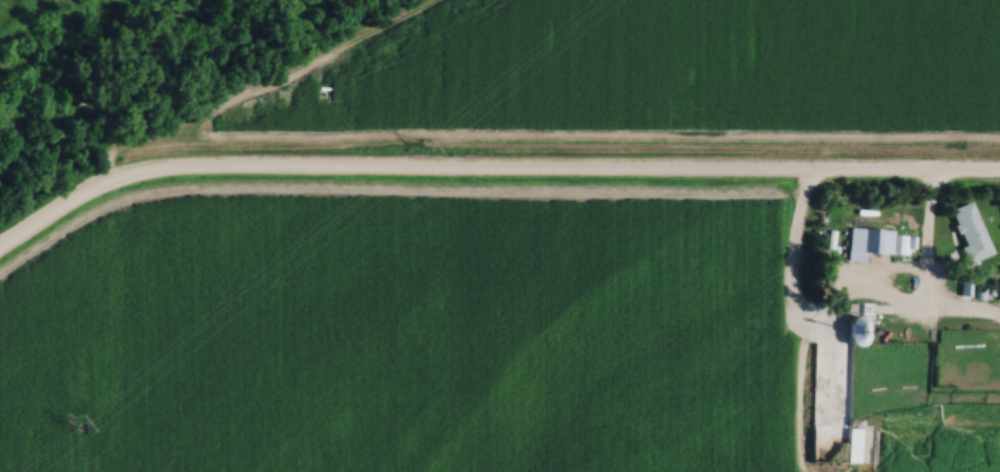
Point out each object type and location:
road: (257, 92)
power tower: (423, 143)
road: (641, 175)
road: (133, 183)
building: (968, 232)
building: (877, 244)
road: (854, 305)
road: (962, 314)
building: (855, 324)
road: (803, 392)
power tower: (72, 426)
building: (852, 446)

